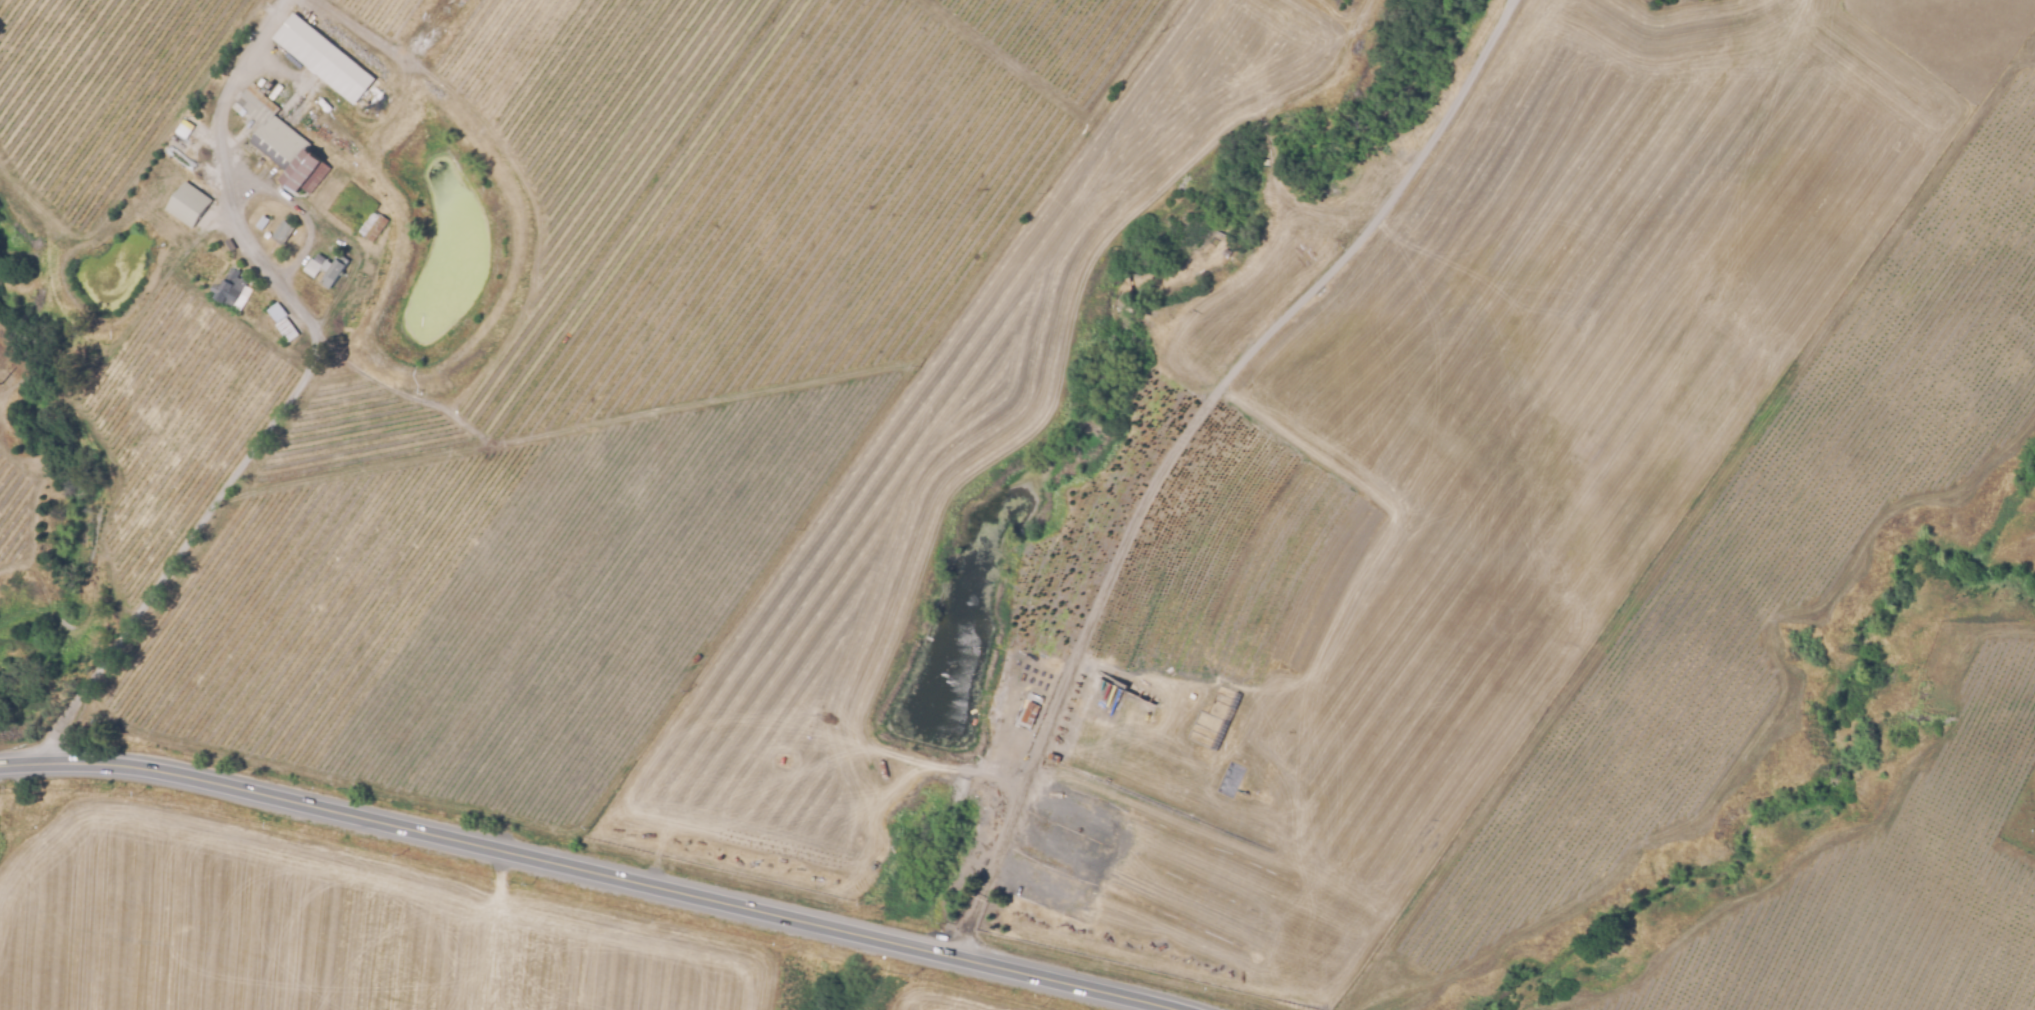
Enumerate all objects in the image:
building: (322, 64)
building: (282, 142)
building: (190, 204)
road: (233, 212)
building: (260, 219)
building: (374, 226)
building: (284, 229)
building: (321, 258)
building: (313, 268)
building: (335, 271)
building: (231, 287)
building: (260, 295)
building: (284, 321)
road: (1178, 444)
road: (176, 560)
road: (594, 868)

